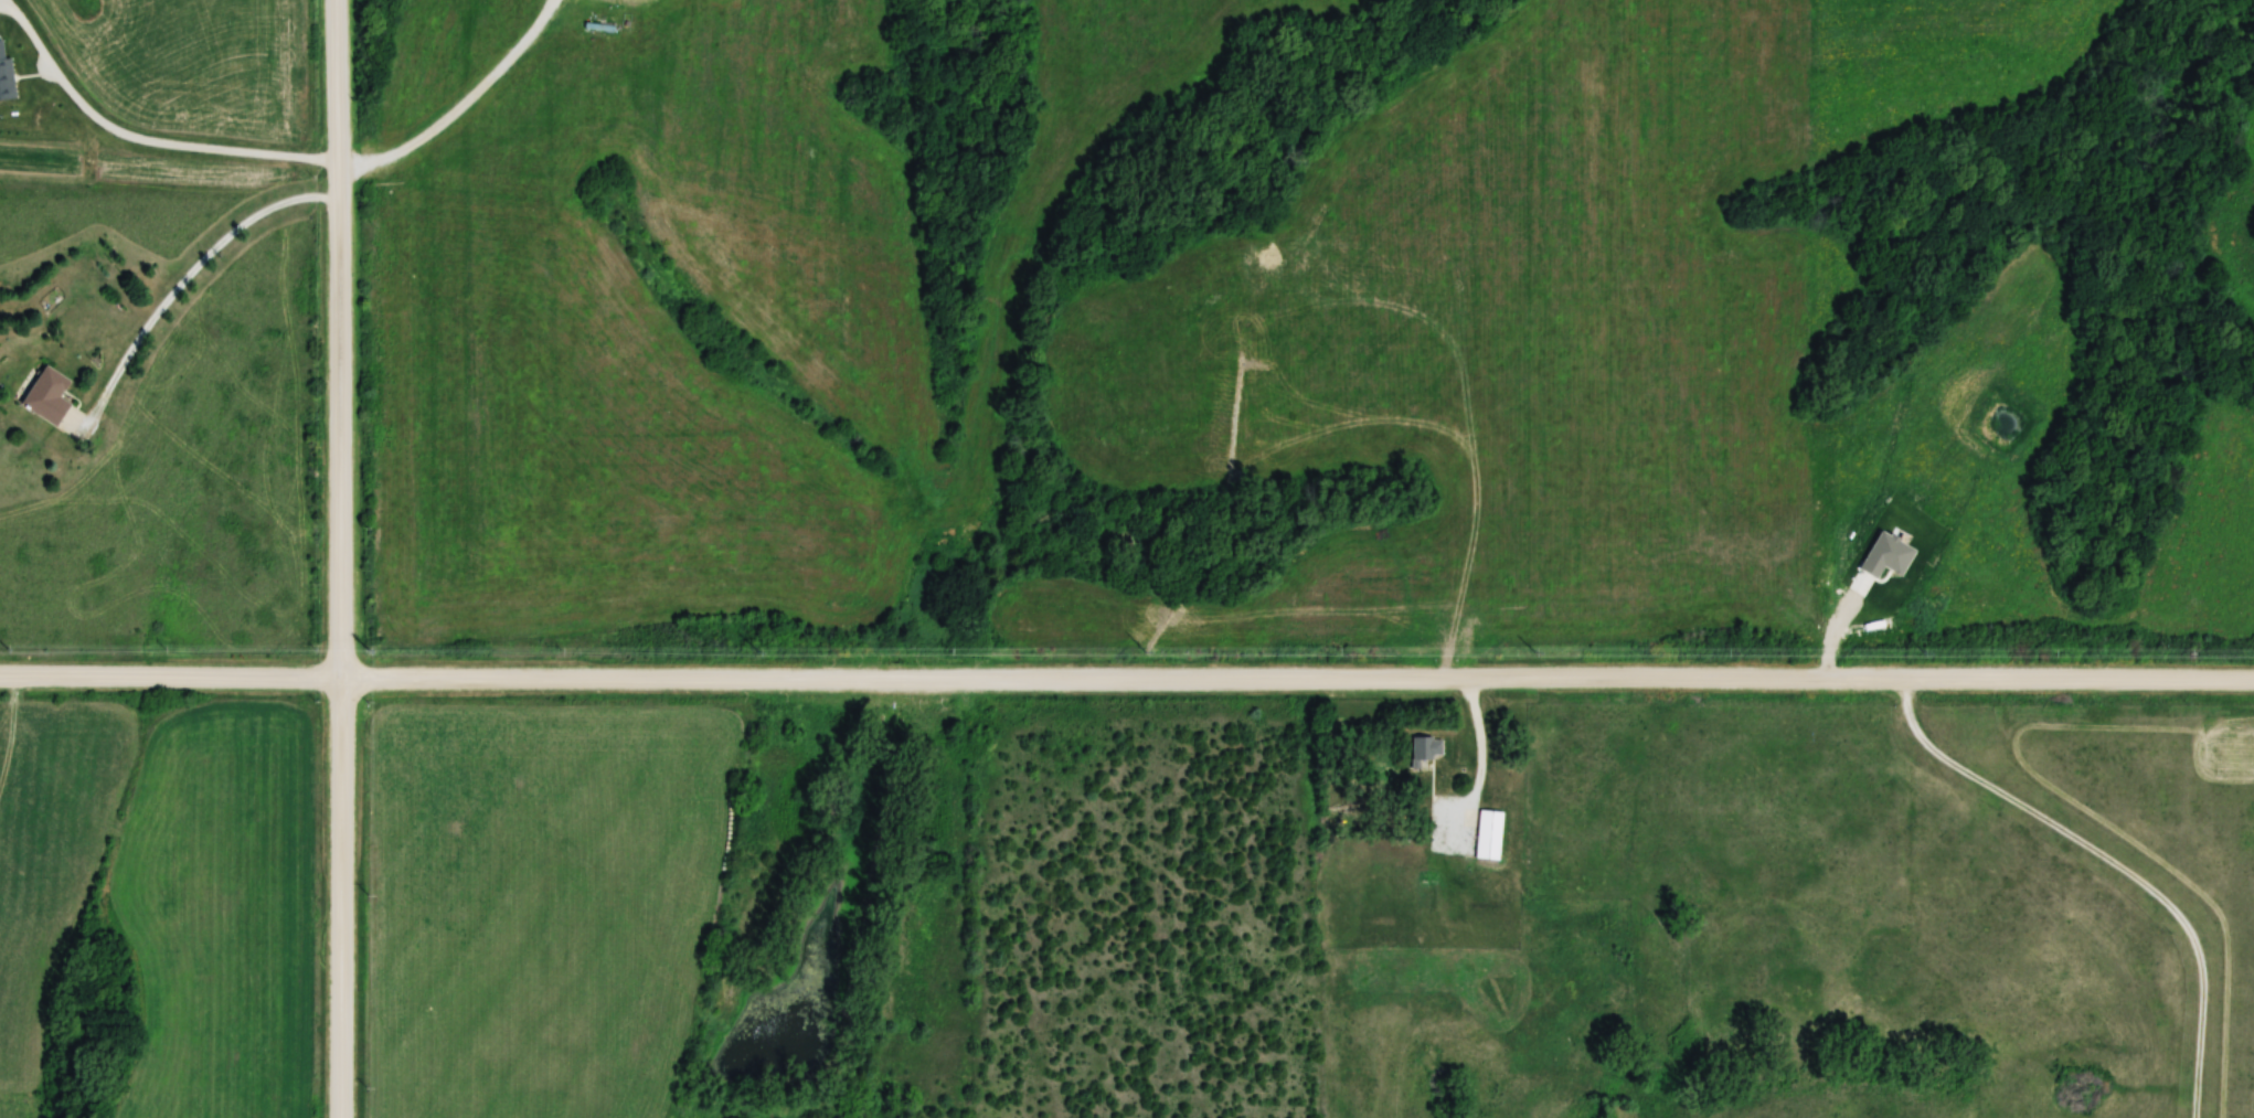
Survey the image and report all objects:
road: (461, 106)
road: (139, 140)
road: (183, 284)
building: (45, 396)
road: (341, 558)
road: (1126, 679)
building: (1425, 748)
building: (1487, 835)
road: (2114, 862)

